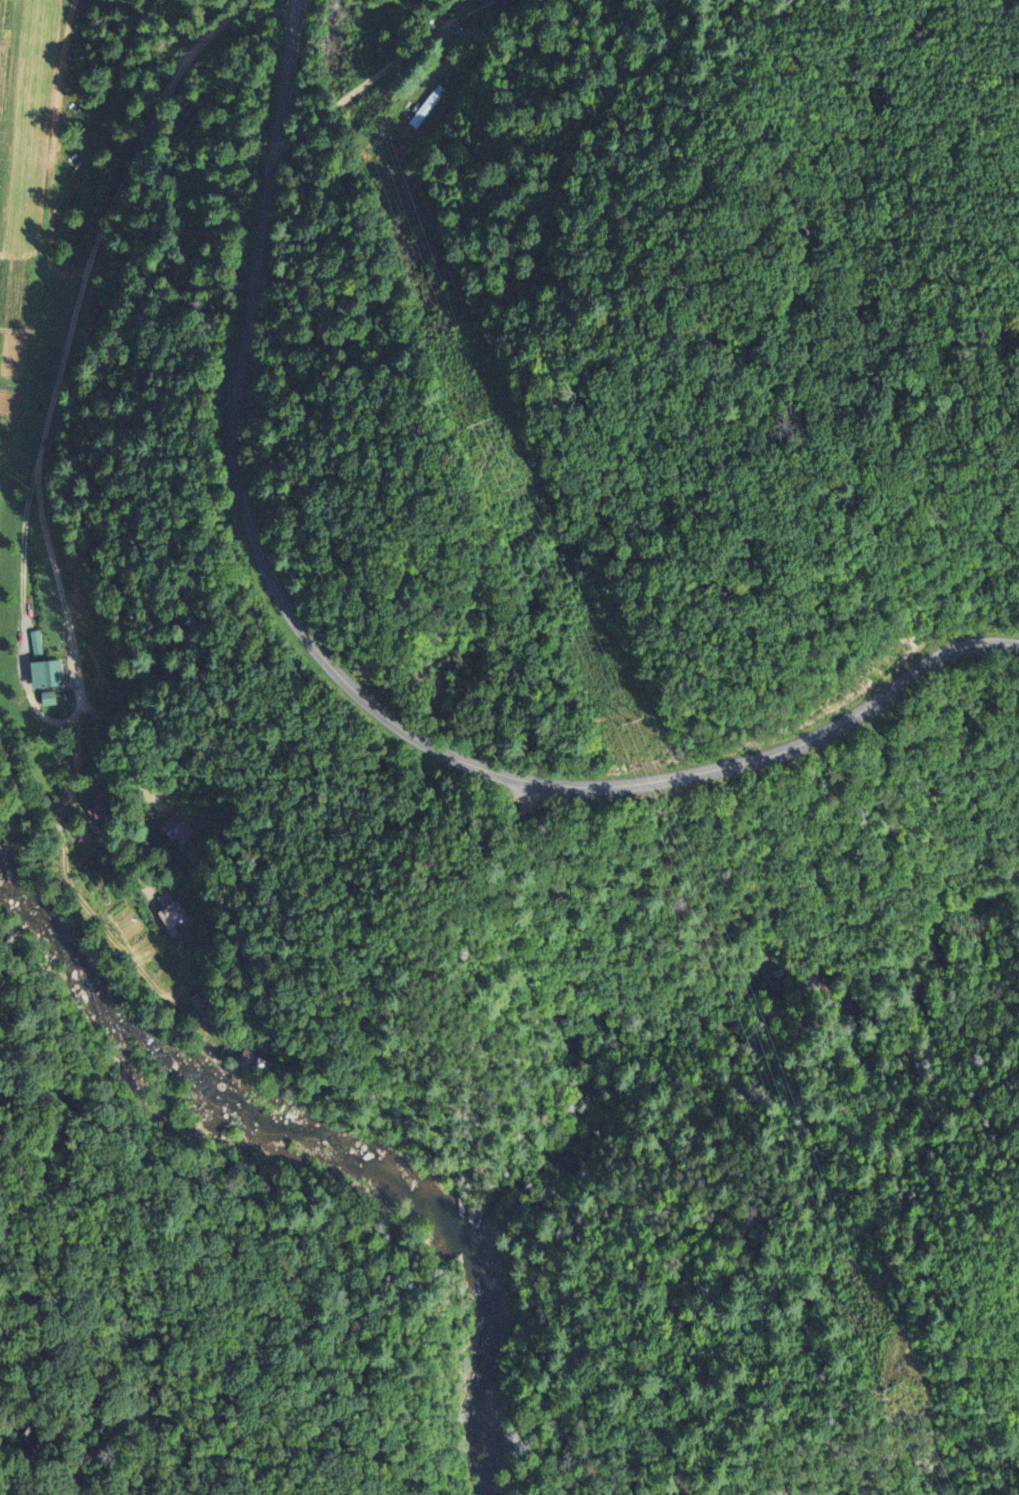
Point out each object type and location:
road: (328, 116)
power tower: (483, 421)
road: (351, 688)
power tower: (632, 720)
river: (199, 1086)
river: (488, 1364)
power tower: (893, 1386)

